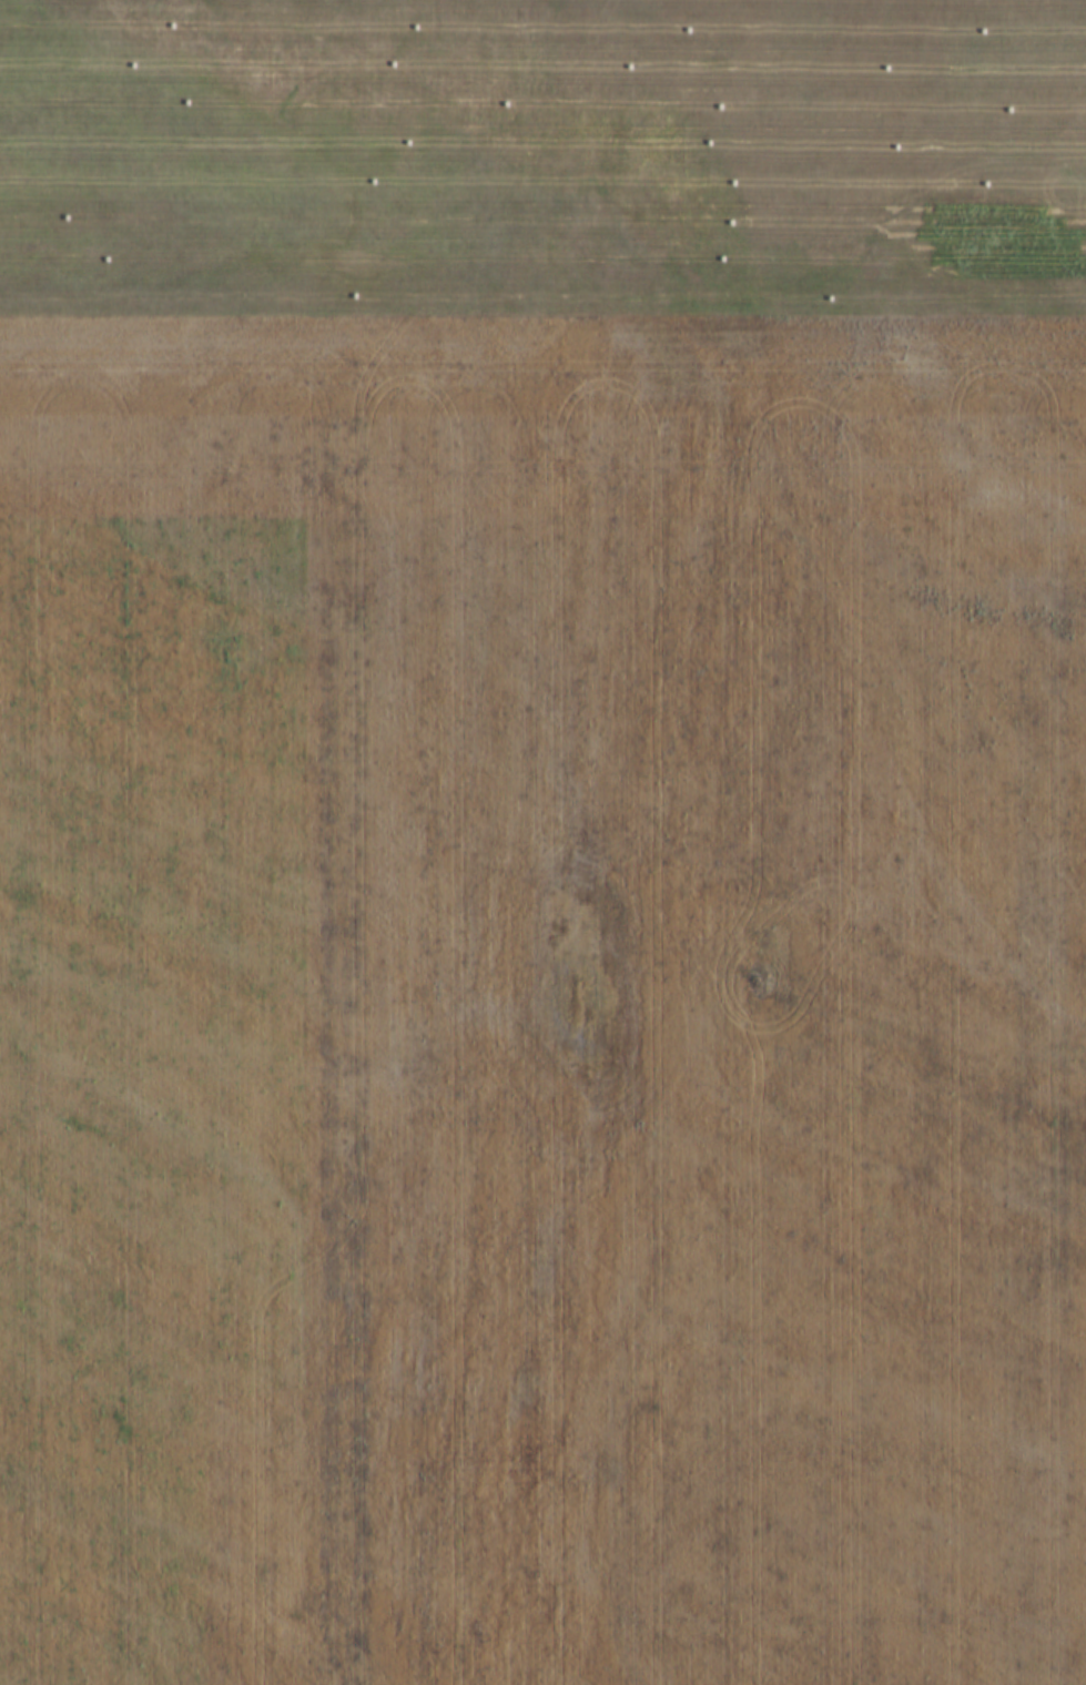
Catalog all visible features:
quarry: (918, 83)
road: (828, 396)

